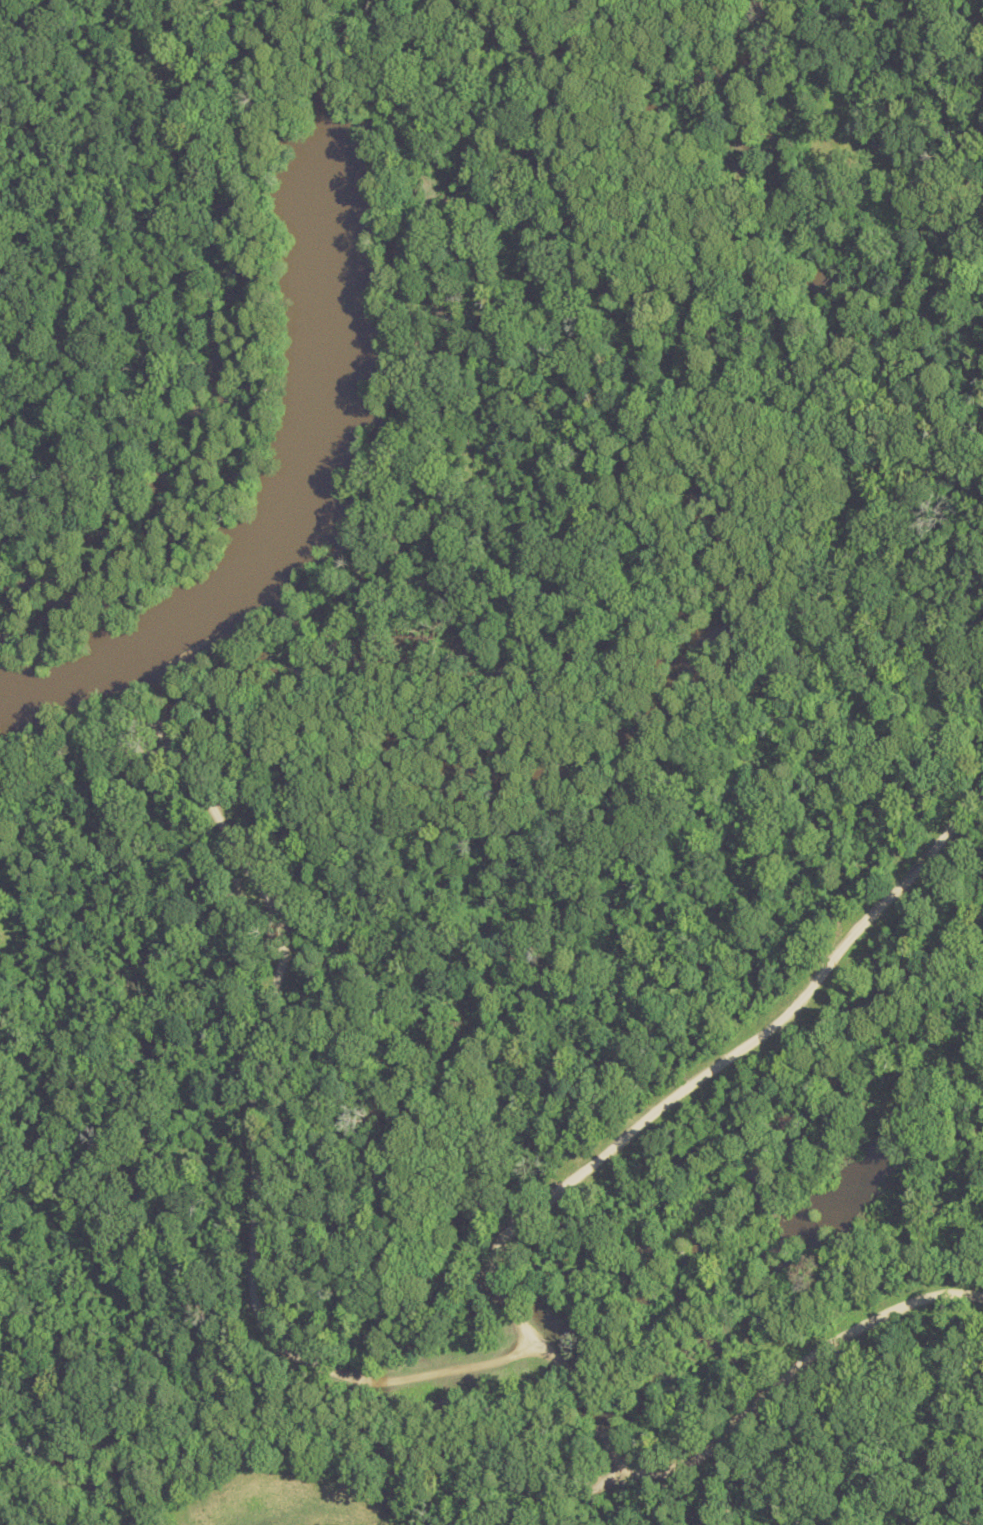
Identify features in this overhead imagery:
road: (505, 1251)

